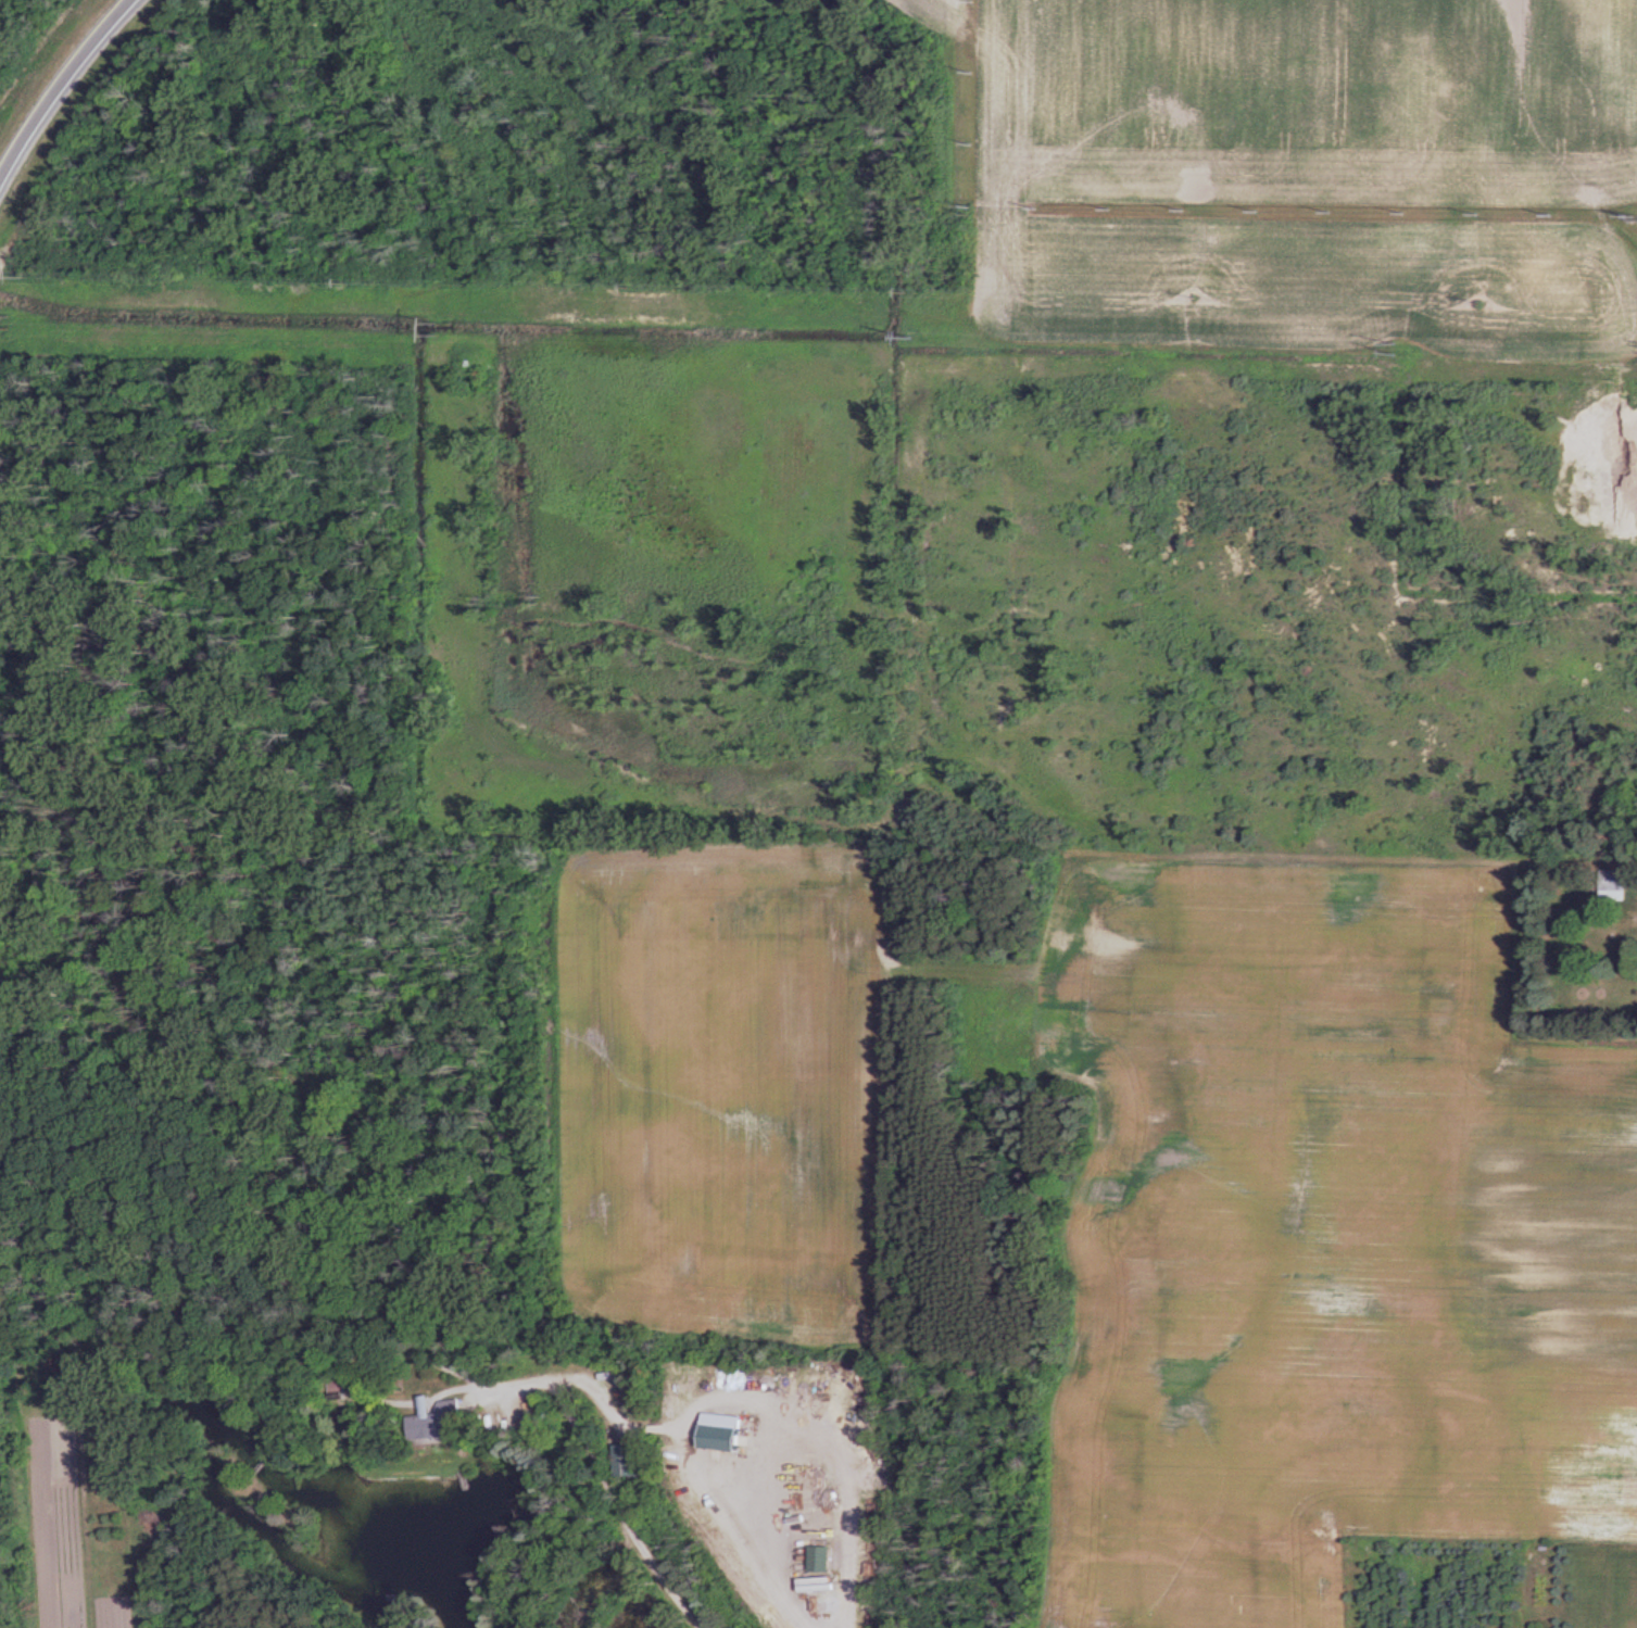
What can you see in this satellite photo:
road: (60, 86)
crop: (1301, 174)
power tower: (8, 323)
power tower: (432, 327)
power tower: (911, 339)
power tower: (1397, 350)
crop: (1146, 1190)
road: (272, 1355)
building: (442, 1422)
building: (727, 1434)
building: (631, 1461)
road: (597, 1467)

